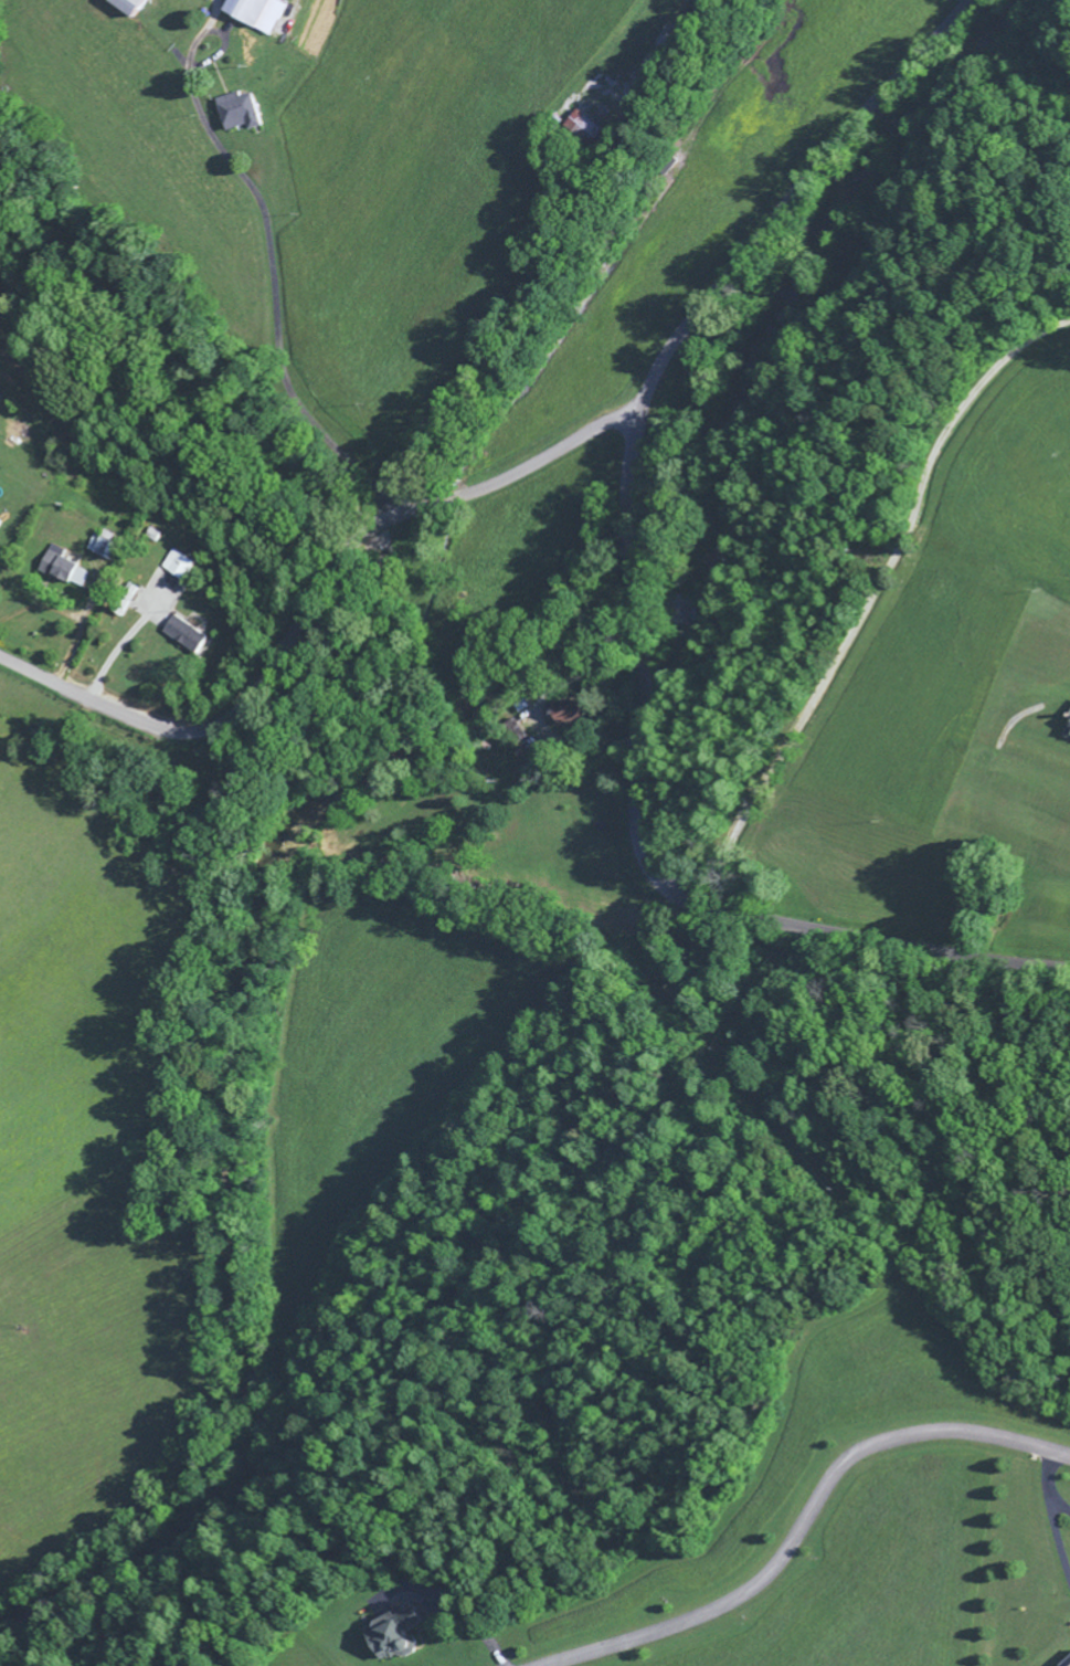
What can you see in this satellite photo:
building: (130, 7)
building: (257, 13)
building: (239, 114)
road: (296, 361)
building: (100, 548)
building: (177, 567)
building: (62, 570)
road: (636, 600)
road: (310, 608)
building: (184, 637)
building: (565, 715)
building: (1067, 731)
road: (804, 1521)
building: (394, 1635)
building: (1068, 1665)

